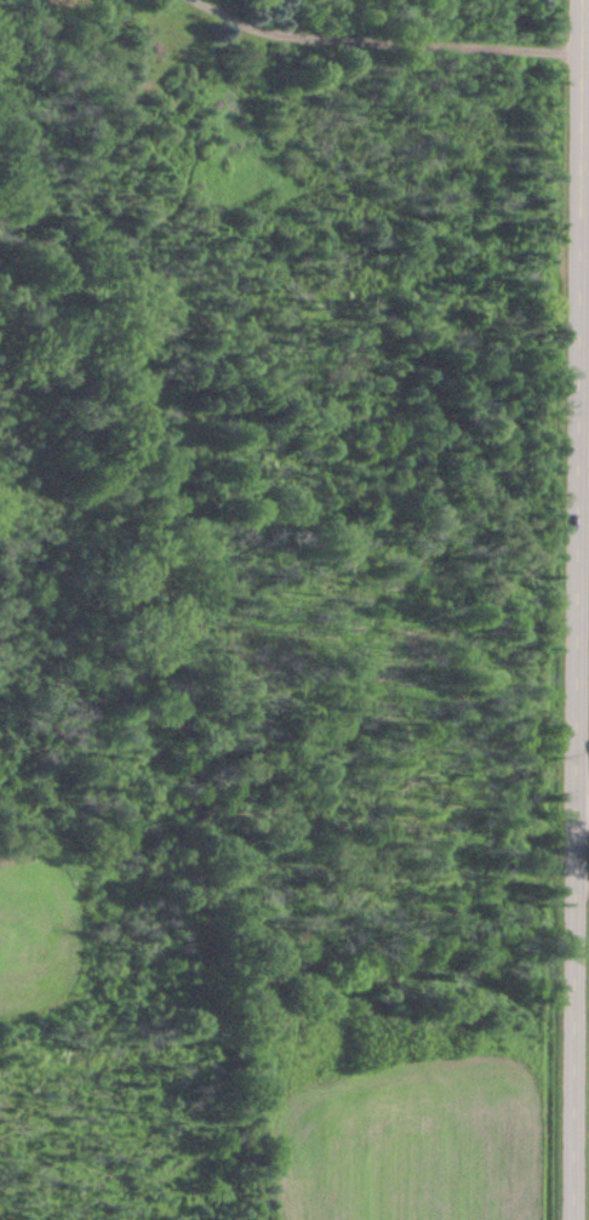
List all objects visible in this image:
road: (384, 35)
road: (573, 609)

